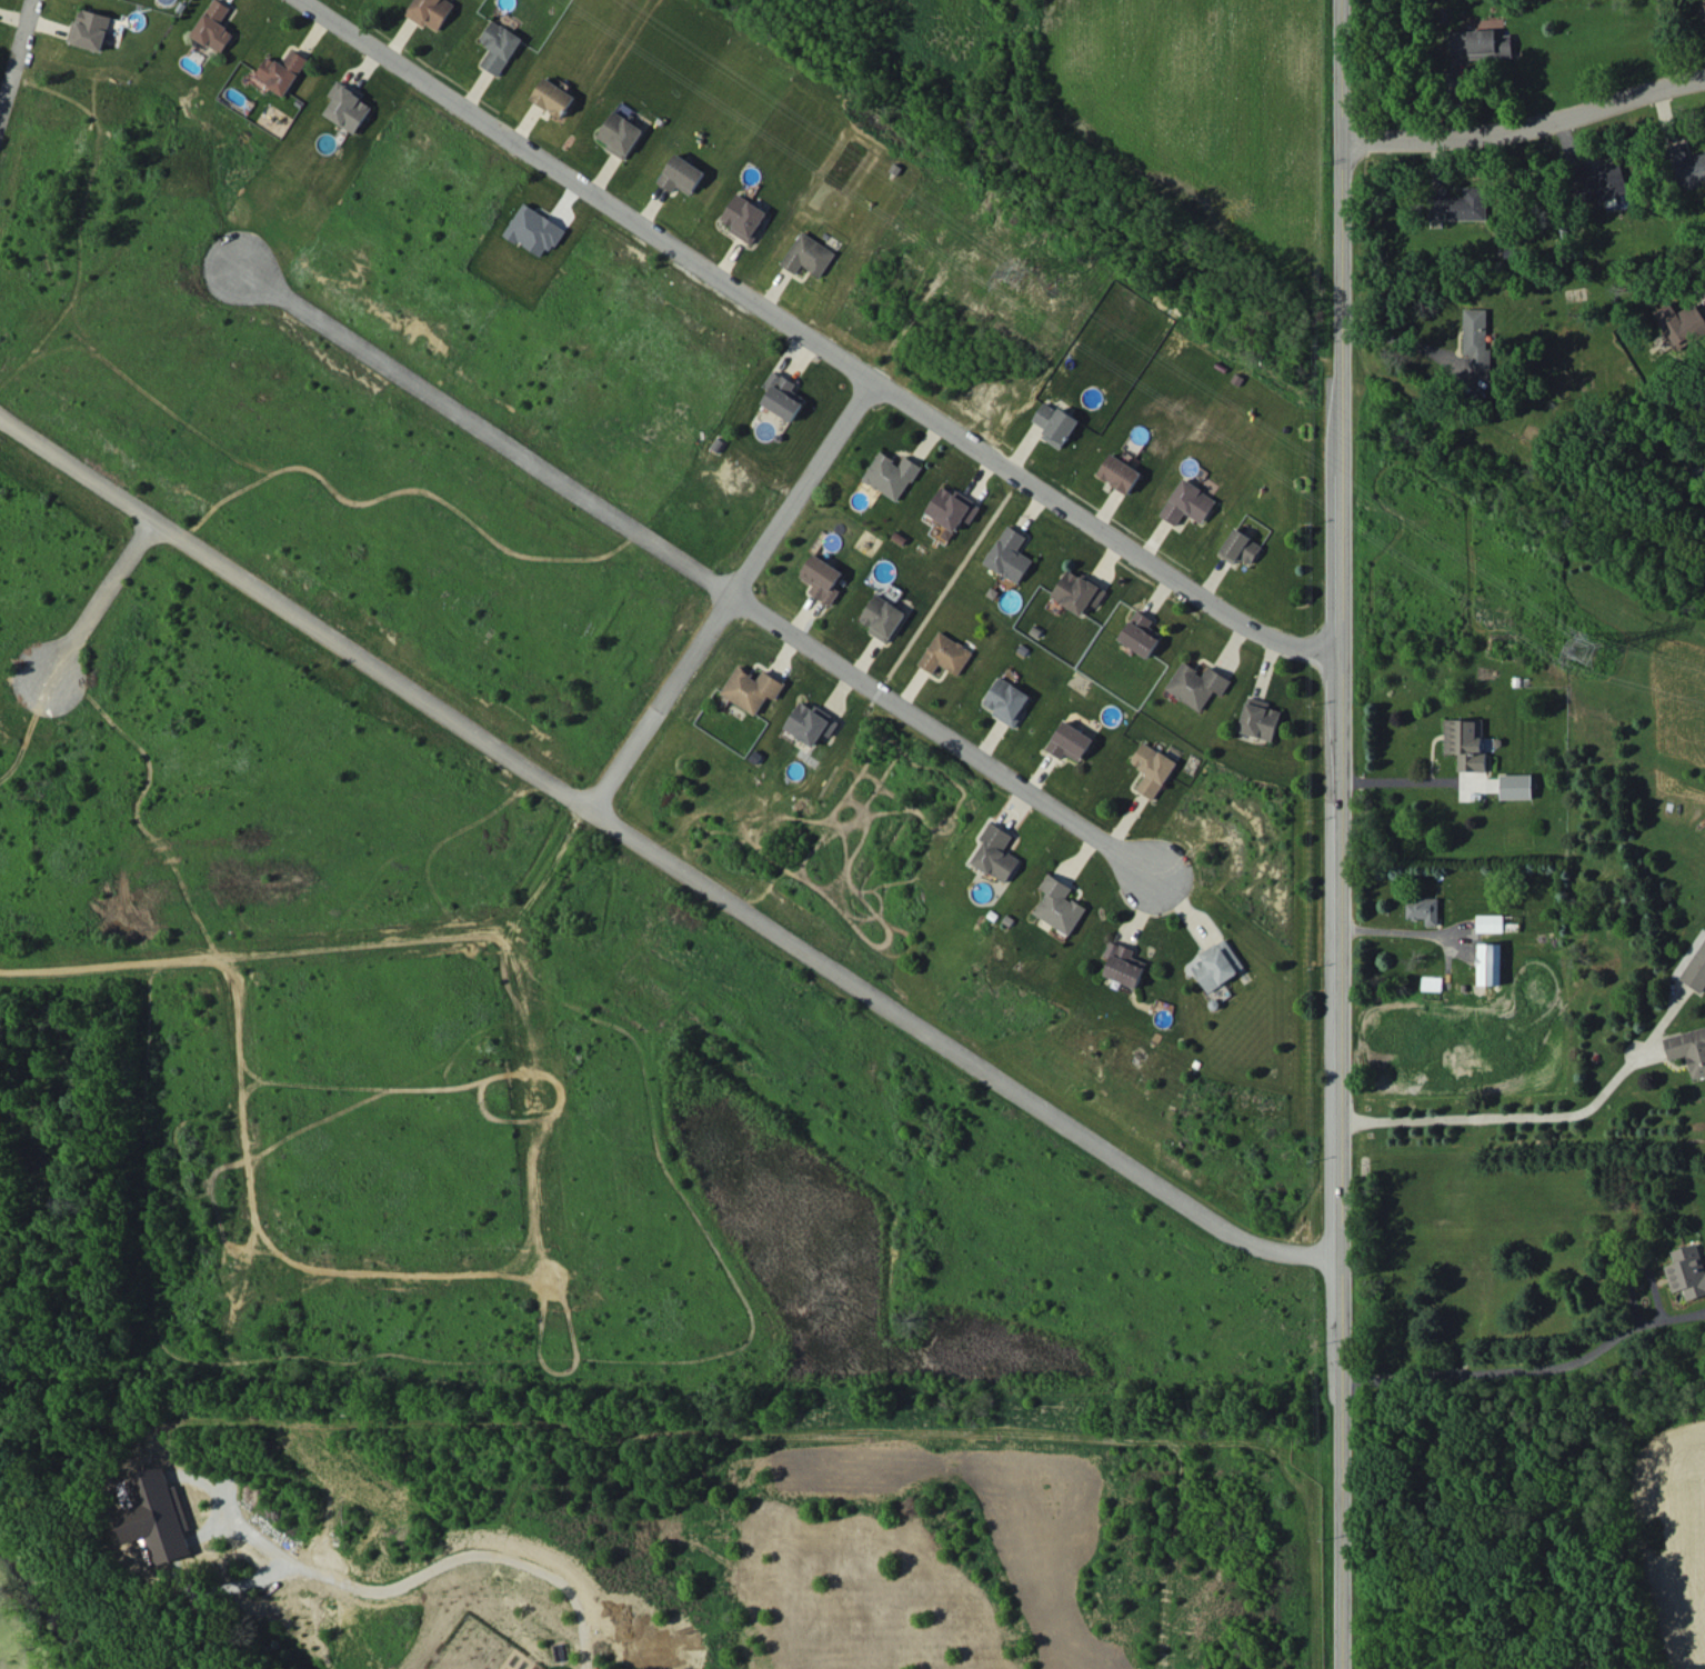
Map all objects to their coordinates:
building: (1702, 10)
building: (430, 11)
building: (213, 27)
building: (90, 29)
building: (1480, 42)
building: (499, 46)
road: (14, 50)
building: (281, 71)
building: (553, 97)
building: (347, 106)
road: (1525, 127)
building: (619, 133)
building: (1686, 167)
building: (682, 174)
building: (1598, 180)
building: (1457, 203)
building: (744, 217)
building: (534, 230)
building: (809, 254)
power tower: (1012, 266)
building: (1682, 322)
road: (815, 333)
building: (1476, 338)
road: (1402, 342)
building: (783, 396)
road: (478, 422)
building: (1054, 423)
building: (1120, 472)
building: (891, 474)
building: (1187, 502)
building: (952, 508)
building: (1240, 547)
building: (1010, 554)
building: (822, 578)
road: (730, 586)
building: (1077, 591)
road: (98, 593)
building: (882, 617)
building: (1141, 633)
power tower: (1581, 648)
building: (945, 653)
building: (1197, 684)
building: (751, 688)
building: (1007, 700)
building: (1258, 718)
building: (811, 722)
road: (944, 730)
building: (1070, 741)
building: (1465, 742)
building: (1152, 768)
road: (1403, 780)
building: (1515, 786)
road: (1331, 833)
road: (658, 846)
building: (996, 852)
building: (1060, 905)
building: (1423, 909)
road: (1392, 922)
building: (1490, 922)
building: (1124, 963)
building: (1217, 963)
building: (1490, 963)
building: (1696, 970)
building: (1688, 1049)
road: (1494, 1112)
building: (1686, 1270)
road: (1505, 1368)
building: (153, 1516)
road: (430, 1570)

